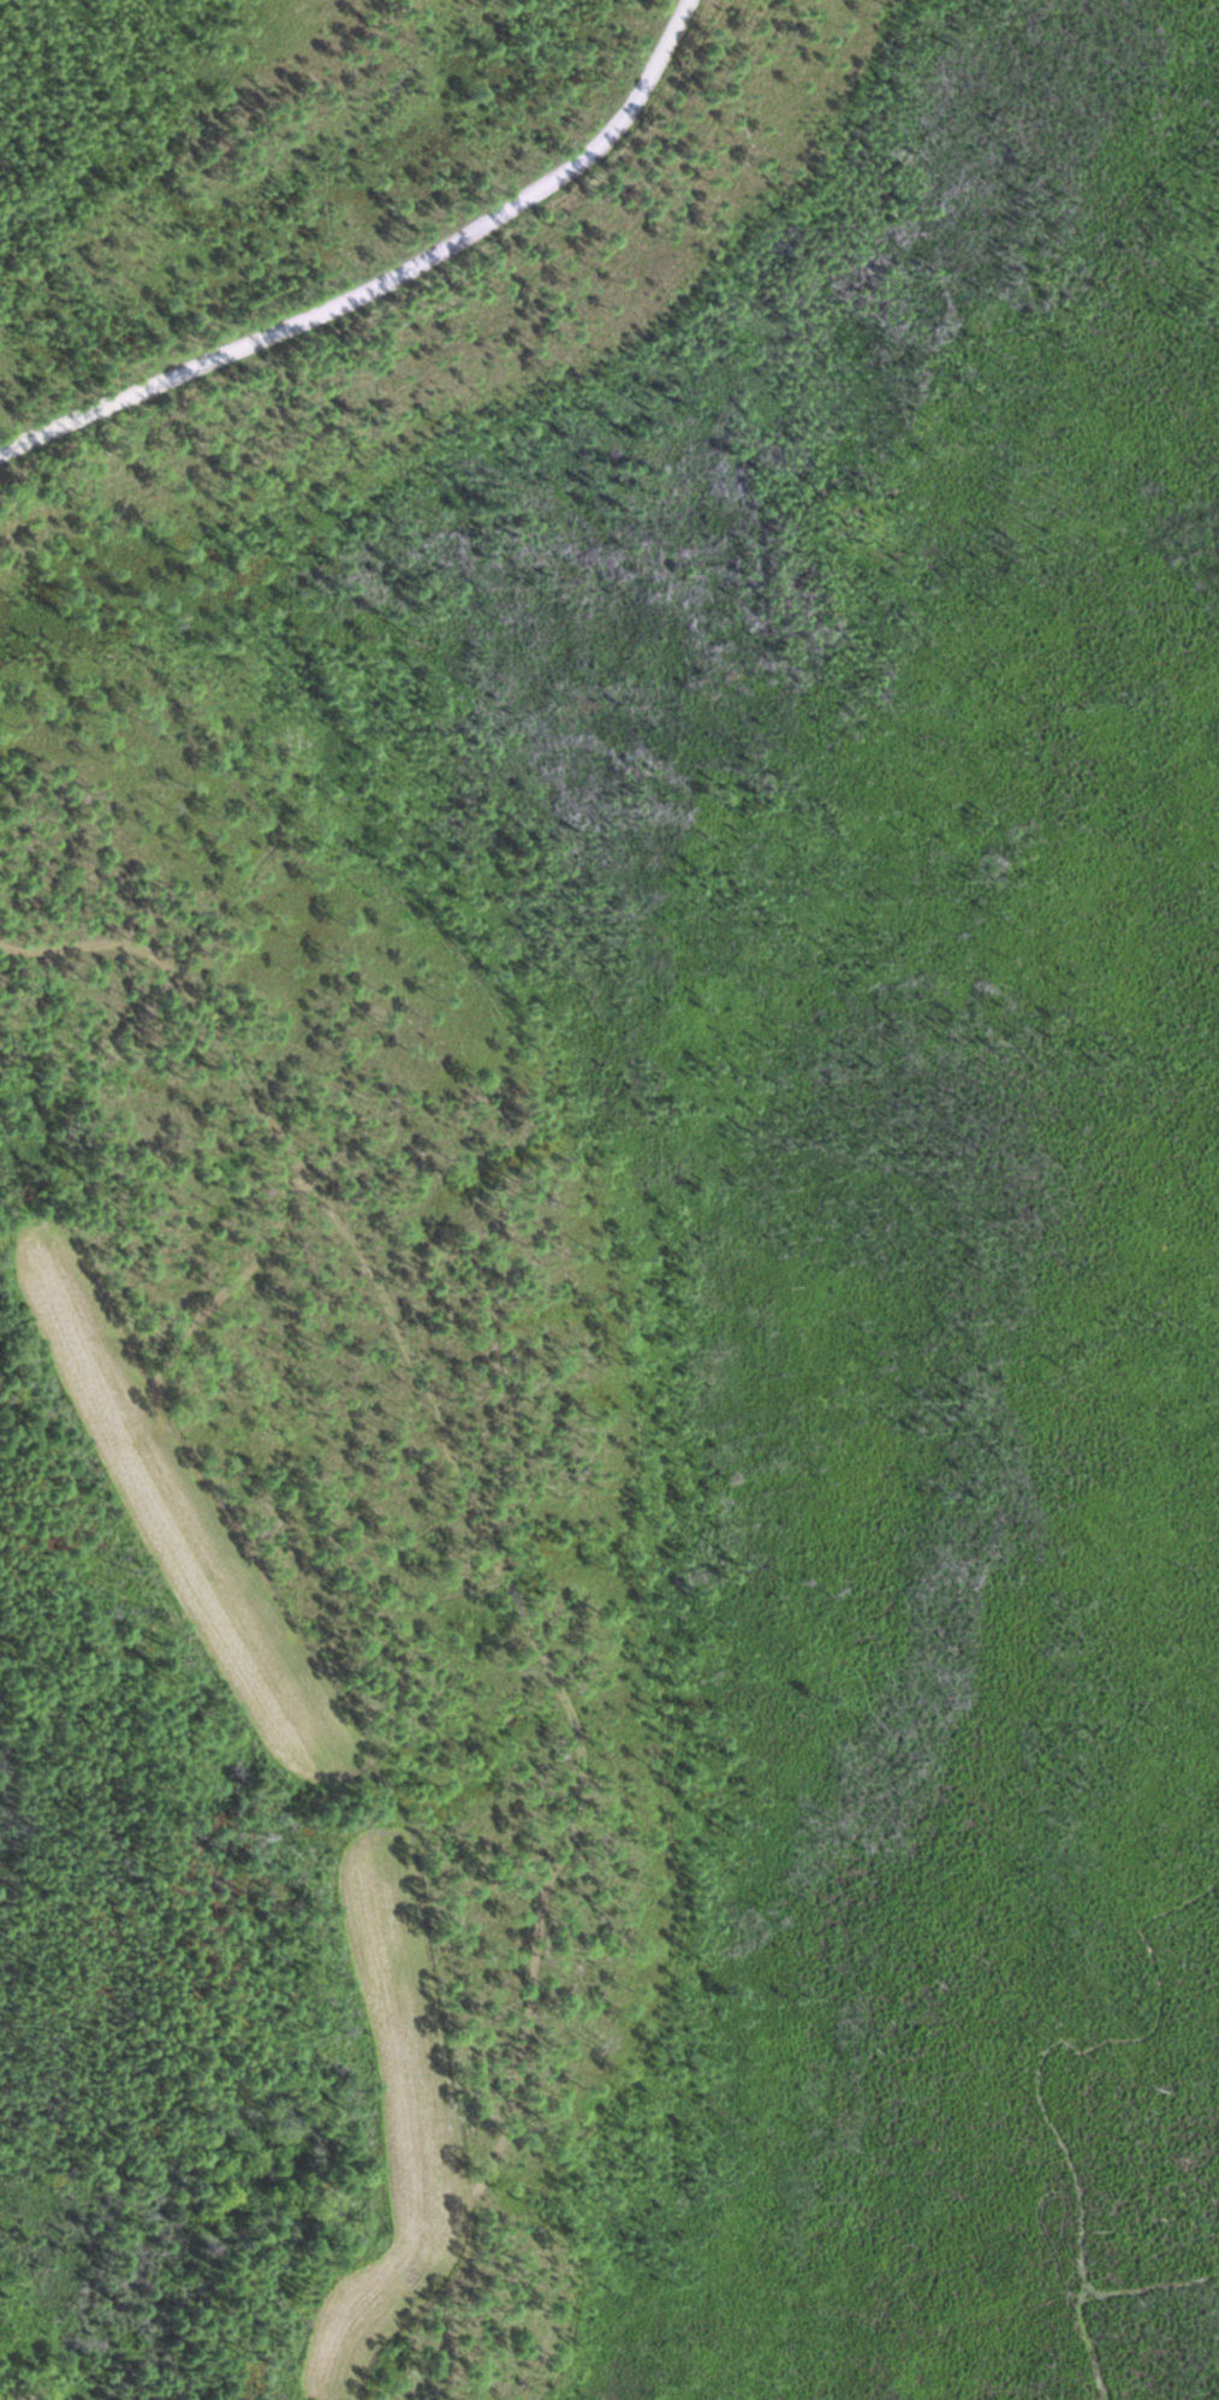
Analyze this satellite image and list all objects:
road: (385, 279)

